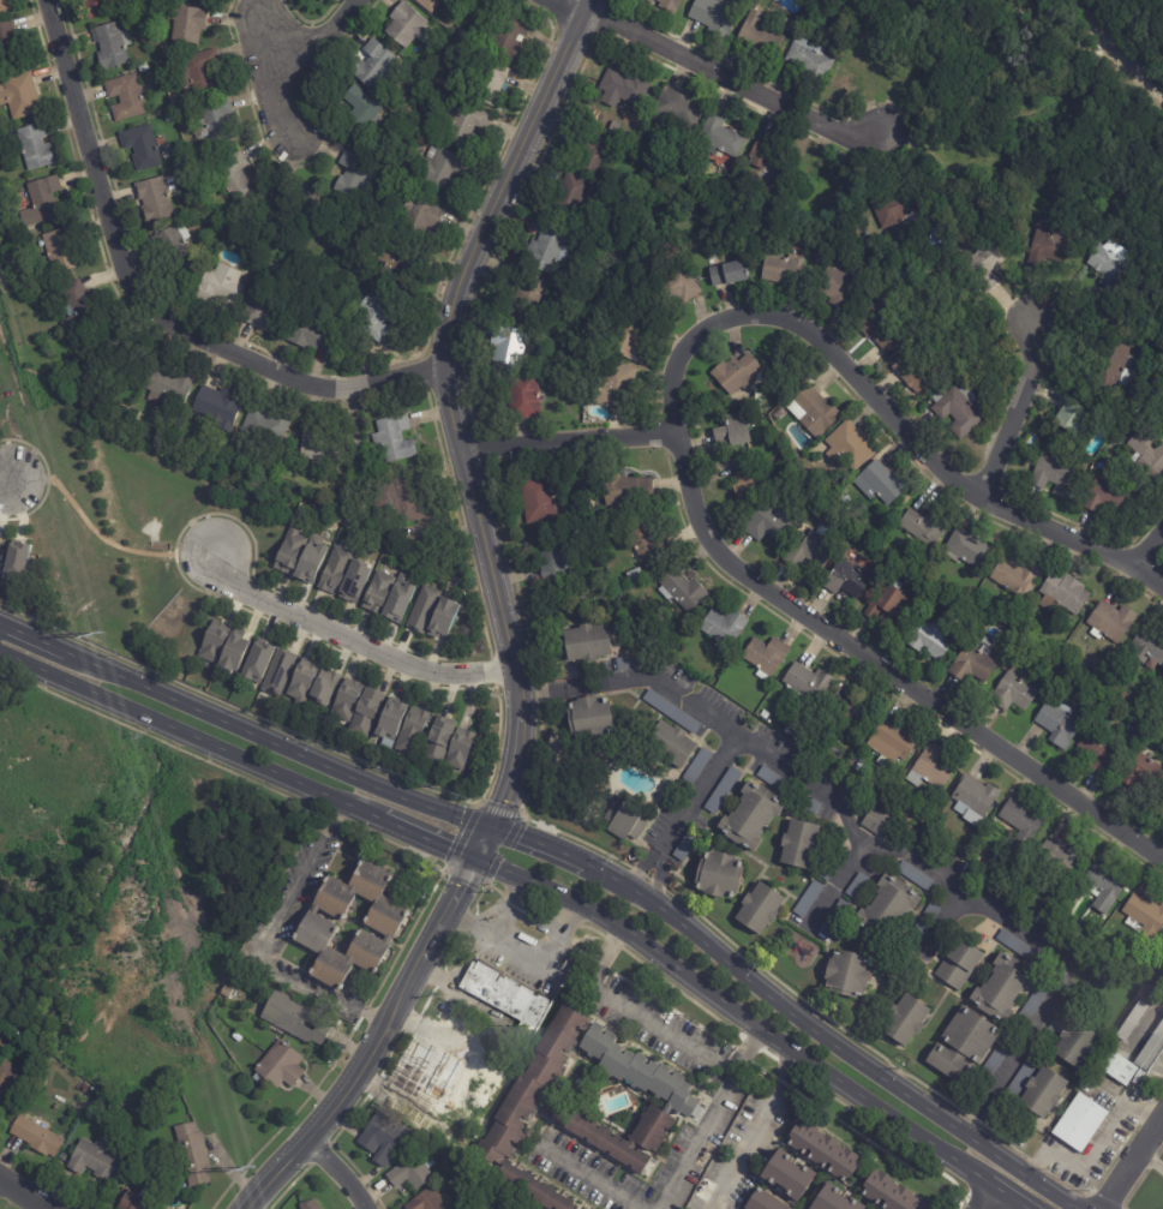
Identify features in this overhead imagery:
building: (318, 0)
building: (320, 0)
building: (649, 1)
building: (7, 5)
building: (428, 5)
building: (669, 5)
building: (97, 7)
building: (715, 14)
building: (449, 20)
building: (187, 24)
building: (406, 25)
building: (460, 32)
road: (317, 36)
building: (760, 36)
building: (508, 37)
building: (440, 43)
building: (11, 46)
building: (110, 46)
building: (162, 54)
building: (443, 60)
building: (809, 60)
building: (372, 64)
building: (151, 66)
building: (143, 68)
building: (199, 73)
road: (724, 73)
road: (277, 77)
building: (437, 79)
building: (490, 83)
building: (445, 86)
building: (623, 88)
building: (185, 94)
building: (22, 95)
building: (125, 97)
building: (359, 109)
building: (676, 110)
building: (168, 118)
building: (215, 121)
building: (462, 122)
building: (615, 128)
building: (720, 137)
park: (1131, 140)
building: (140, 146)
building: (40, 148)
building: (593, 156)
building: (772, 158)
building: (396, 163)
building: (440, 168)
building: (353, 175)
building: (234, 178)
building: (683, 179)
building: (569, 196)
building: (52, 197)
building: (152, 199)
building: (298, 203)
building: (196, 208)
building: (897, 208)
building: (420, 211)
building: (372, 216)
building: (350, 217)
building: (256, 244)
building: (1049, 245)
building: (175, 246)
building: (68, 250)
building: (545, 250)
building: (400, 256)
building: (1108, 265)
building: (984, 267)
building: (783, 269)
building: (355, 270)
building: (729, 274)
building: (7, 283)
building: (218, 283)
building: (679, 285)
building: (529, 287)
building: (841, 289)
building: (83, 306)
road: (140, 306)
building: (264, 312)
building: (372, 318)
building: (879, 329)
building: (122, 336)
building: (310, 336)
building: (630, 337)
building: (505, 345)
building: (1113, 367)
building: (737, 373)
building: (912, 373)
building: (167, 387)
building: (612, 388)
building: (522, 396)
building: (216, 407)
building: (957, 411)
road: (1017, 411)
building: (813, 412)
building: (1068, 418)
building: (1162, 424)
building: (264, 425)
building: (732, 432)
building: (392, 438)
road: (570, 442)
building: (1035, 445)
building: (314, 447)
building: (849, 447)
building: (1147, 451)
road: (939, 459)
building: (1054, 474)
road: (6, 478)
building: (747, 478)
building: (879, 484)
building: (625, 490)
building: (1104, 496)
building: (410, 497)
building: (844, 499)
building: (535, 501)
building: (385, 503)
building: (768, 522)
building: (923, 528)
road: (101, 537)
building: (645, 544)
building: (810, 550)
building: (966, 550)
road: (1149, 550)
building: (289, 552)
building: (551, 555)
building: (311, 559)
building: (18, 562)
building: (334, 570)
building: (1017, 579)
building: (846, 580)
building: (354, 581)
building: (682, 592)
building: (376, 593)
building: (1062, 594)
building: (398, 601)
building: (887, 606)
building: (422, 610)
building: (443, 618)
building: (1111, 622)
road: (504, 626)
building: (724, 628)
power tower: (96, 632)
road: (825, 633)
building: (930, 639)
road: (353, 640)
building: (214, 642)
building: (589, 644)
building: (1147, 650)
building: (233, 653)
building: (766, 656)
building: (256, 662)
building: (627, 664)
building: (972, 665)
building: (277, 674)
building: (302, 681)
road: (659, 681)
building: (711, 681)
building: (807, 683)
building: (324, 687)
road: (544, 689)
building: (1013, 693)
building: (346, 701)
building: (365, 713)
building: (670, 713)
building: (852, 713)
building: (766, 716)
building: (391, 719)
building: (591, 720)
building: (1059, 724)
building: (787, 730)
building: (412, 731)
road: (192, 740)
building: (437, 742)
building: (892, 742)
building: (671, 746)
building: (460, 750)
building: (1098, 752)
building: (835, 755)
building: (859, 766)
building: (697, 767)
building: (931, 768)
building: (1141, 772)
building: (787, 790)
building: (723, 791)
building: (973, 798)
building: (907, 810)
building: (1159, 810)
road: (684, 812)
road: (331, 816)
building: (751, 818)
building: (627, 820)
building: (1021, 822)
building: (877, 824)
traffic signals: (487, 827)
road: (506, 833)
road: (431, 840)
building: (688, 844)
building: (799, 845)
building: (954, 846)
traffic signals: (475, 858)
building: (1061, 860)
building: (831, 869)
building: (719, 876)
building: (915, 876)
road: (837, 881)
building: (1105, 886)
building: (857, 887)
road: (978, 897)
building: (808, 899)
road: (503, 905)
building: (761, 909)
building: (888, 910)
building: (933, 912)
building: (1144, 918)
building: (834, 920)
building: (318, 926)
building: (917, 934)
road: (264, 938)
road: (524, 950)
building: (1019, 951)
building: (959, 965)
building: (849, 975)
building: (227, 992)
building: (1002, 992)
building: (504, 994)
building: (1031, 1009)
road: (365, 1015)
building: (295, 1018)
building: (907, 1022)
building: (1132, 1024)
road: (755, 1027)
building: (451, 1035)
building: (236, 1037)
building: (965, 1046)
building: (1078, 1046)
road: (747, 1053)
road: (701, 1054)
building: (1039, 1055)
building: (996, 1060)
building: (1114, 1060)
building: (278, 1065)
building: (8, 1076)
building: (442, 1081)
building: (83, 1088)
building: (1045, 1094)
building: (107, 1103)
building: (516, 1106)
building: (697, 1113)
building: (479, 1120)
building: (1081, 1123)
building: (1031, 1131)
road: (754, 1132)
building: (37, 1138)
building: (383, 1138)
building: (822, 1150)
building: (192, 1154)
building: (95, 1159)
building: (708, 1159)
road: (1131, 1159)
road: (1149, 1162)
power tower: (247, 1166)
road: (1020, 1171)
road: (338, 1172)
building: (408, 1173)
building: (787, 1175)
road: (587, 1177)
building: (473, 1180)
road: (23, 1193)
building: (889, 1193)
building: (446, 1196)
road: (987, 1197)
building: (833, 1199)
building: (426, 1201)
building: (762, 1201)
building: (133, 1202)
building: (308, 1204)

